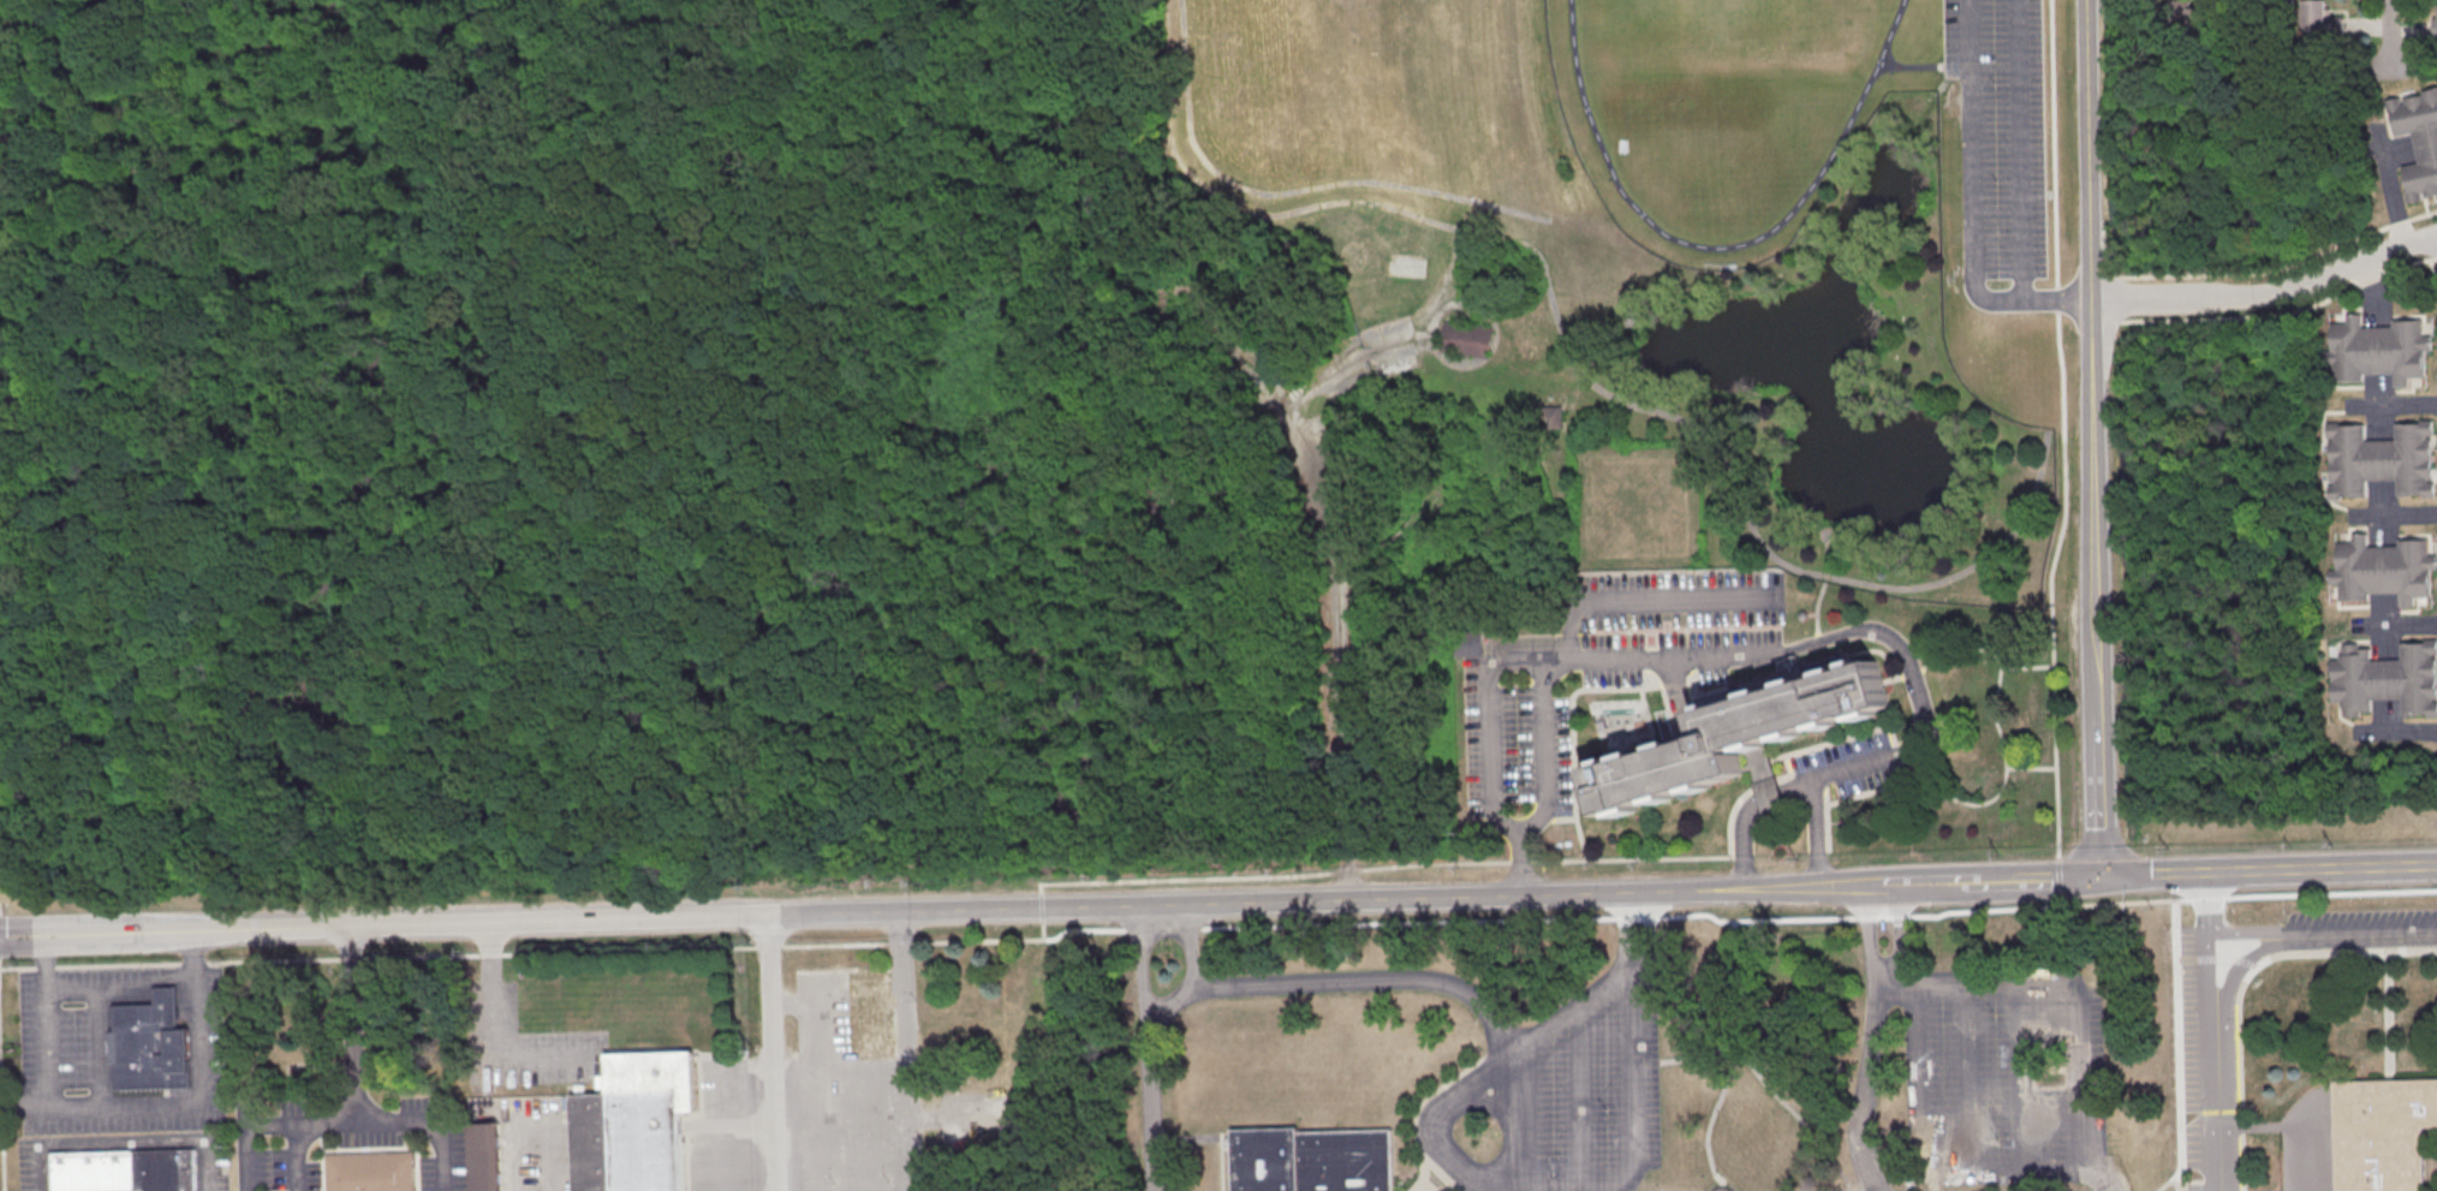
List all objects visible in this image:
park: (1730, 11)
park: (1803, 13)
building: (2195, 17)
building: (2323, 18)
park: (1664, 19)
building: (2435, 19)
road: (2389, 36)
road: (1946, 69)
road: (1595, 131)
parking lot: (2001, 135)
building: (2419, 142)
road: (2022, 151)
road: (1825, 169)
road: (1295, 192)
road: (1973, 204)
road: (1497, 237)
road: (2430, 264)
road: (2284, 269)
road: (2269, 294)
road: (2280, 315)
road: (1402, 327)
building: (1465, 340)
building: (2378, 351)
park: (1530, 375)
road: (2393, 406)
building: (1551, 417)
road: (2095, 439)
road: (2064, 440)
building: (2381, 461)
road: (2397, 517)
road: (1976, 565)
road: (1331, 567)
building: (2383, 571)
road: (1824, 583)
parking lot: (1680, 599)
road: (1645, 600)
road: (2397, 627)
road: (1818, 637)
building: (1468, 642)
road: (1539, 661)
road: (1912, 672)
road: (1894, 679)
building: (2387, 679)
building: (1744, 731)
road: (2406, 732)
road: (1905, 751)
parking lot: (1517, 756)
road: (1545, 756)
road: (1786, 756)
road: (2031, 770)
road: (2002, 781)
building: (1770, 794)
road: (1827, 816)
road: (1817, 834)
road: (1521, 868)
road: (1382, 870)
road: (2270, 871)
traffic signals: (2104, 877)
road: (2002, 881)
road: (2316, 883)
road: (1883, 885)
road: (1843, 886)
road: (1043, 909)
road: (908, 910)
road: (2322, 934)
road: (1190, 947)
road: (530, 952)
road: (1885, 965)
road: (1882, 976)
road: (1337, 981)
road: (2241, 984)
road: (121, 988)
road: (2075, 998)
building: (870, 1012)
road: (44, 1020)
road: (496, 1031)
road: (2210, 1031)
building: (151, 1047)
road: (1145, 1048)
road: (901, 1050)
road: (768, 1052)
building: (853, 1077)
road: (1863, 1089)
road: (1578, 1091)
road: (351, 1097)
road: (185, 1103)
road: (1519, 1112)
road: (1413, 1115)
road: (323, 1122)
building: (636, 1124)
road: (2, 1125)
building: (2383, 1133)
road: (248, 1135)
road: (123, 1145)
road: (294, 1157)
building: (485, 1157)
road: (1924, 1159)
building: (1312, 1161)
road: (1465, 1168)
building: (126, 1171)
building: (370, 1171)
road: (2179, 1181)
road: (2180, 1186)
building: (1723, 1189)

